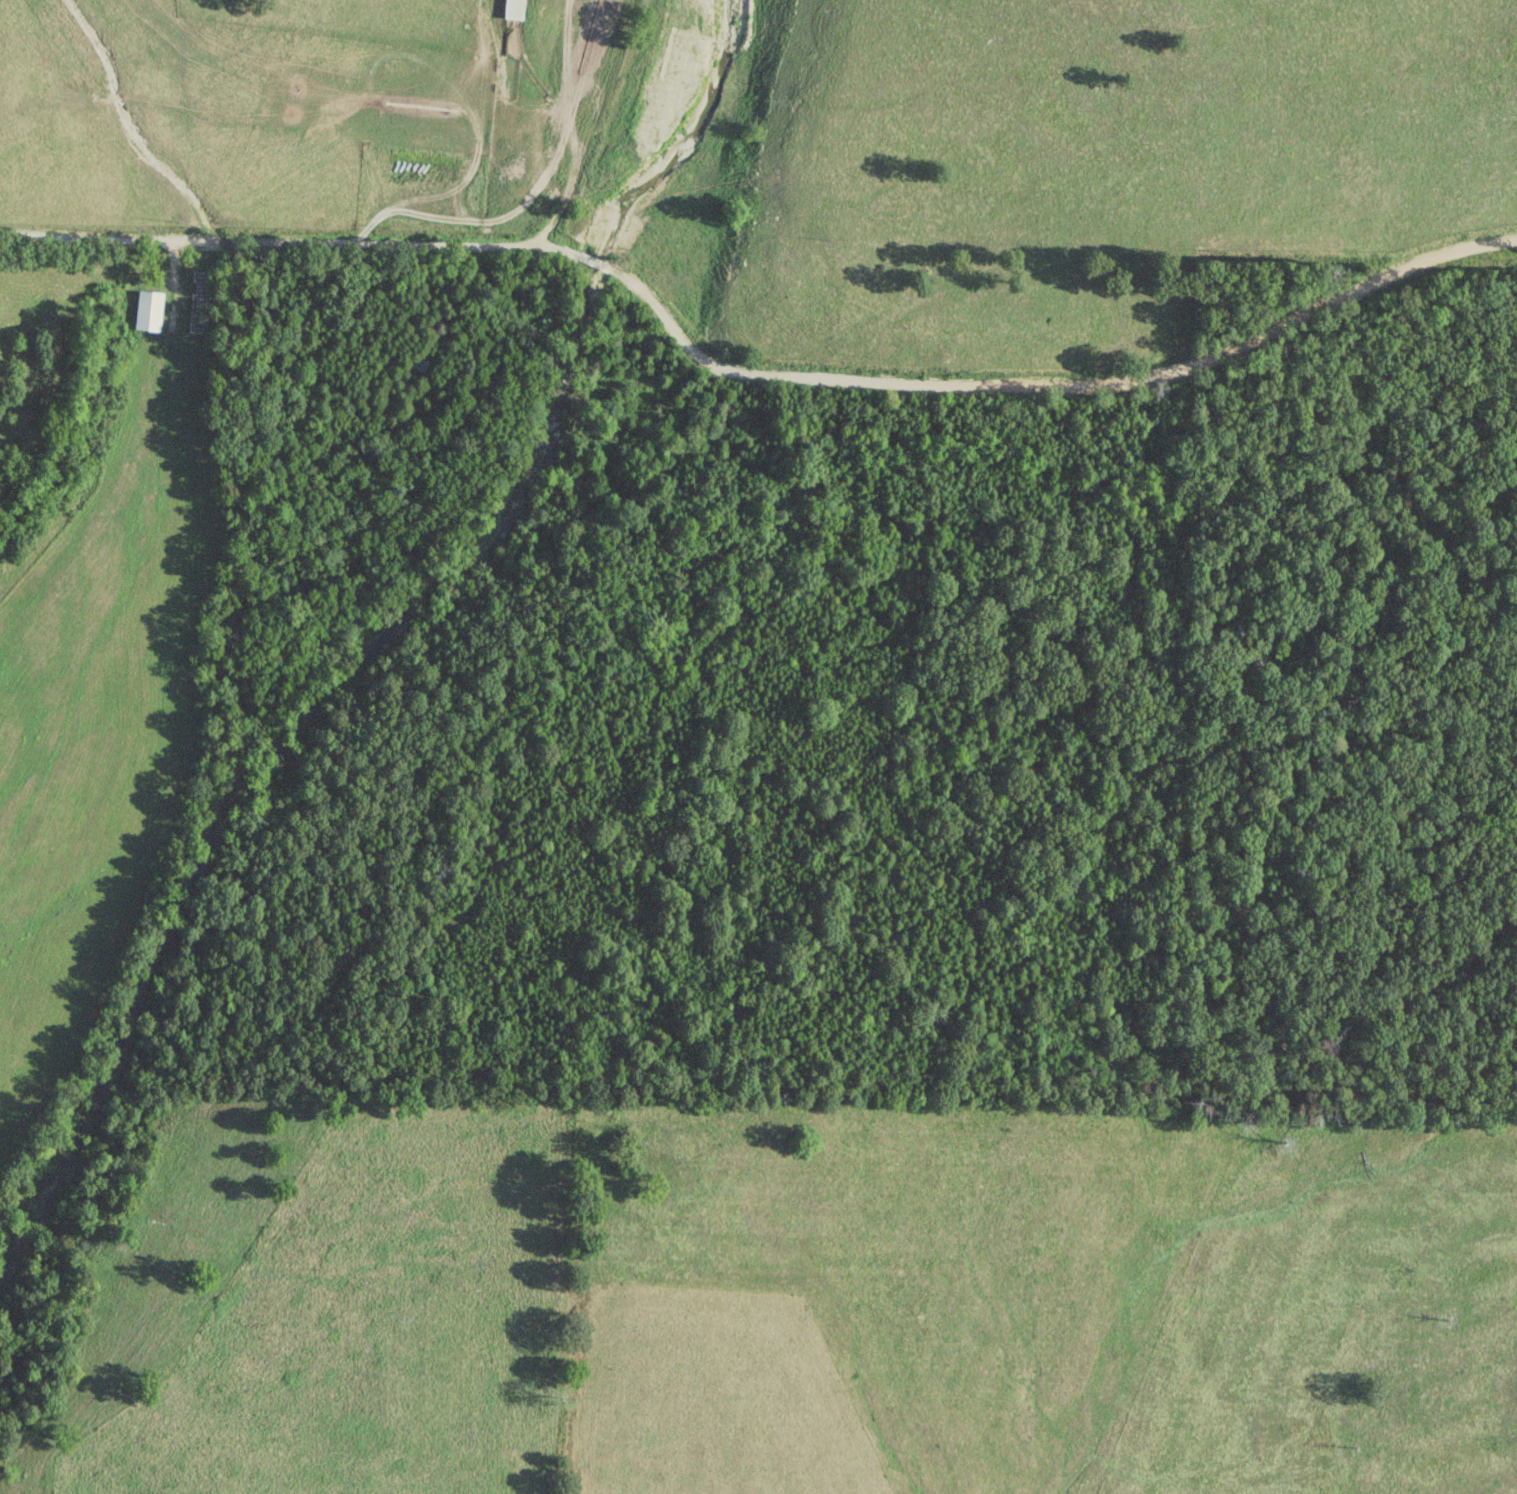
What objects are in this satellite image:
building: (516, 9)
road: (631, 126)
building: (151, 311)
road: (747, 368)

